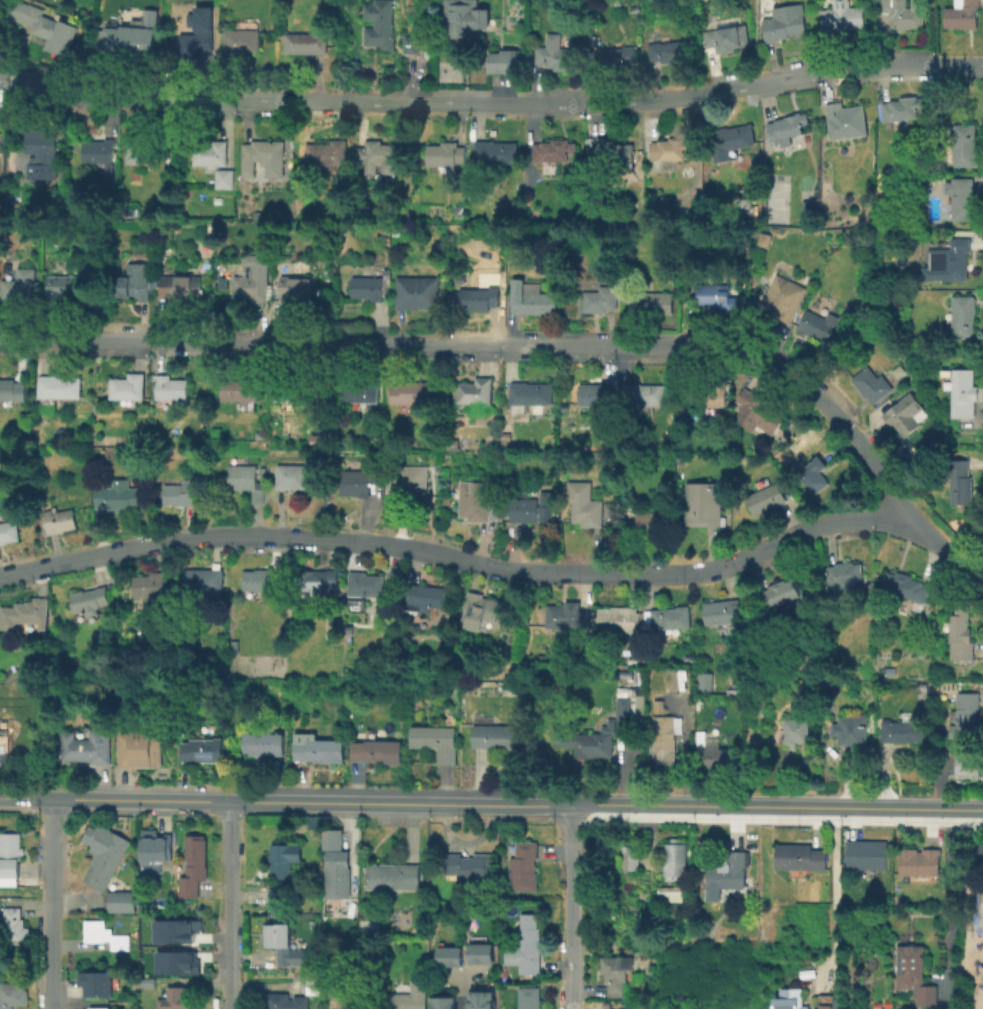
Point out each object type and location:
building: (903, 14)
building: (961, 14)
building: (465, 17)
building: (842, 17)
building: (784, 22)
building: (380, 24)
building: (49, 31)
building: (130, 37)
building: (199, 38)
building: (727, 38)
building: (243, 40)
building: (307, 41)
building: (416, 44)
building: (668, 50)
building: (557, 53)
building: (617, 57)
building: (504, 59)
road: (490, 105)
building: (902, 108)
building: (846, 121)
building: (787, 125)
building: (729, 141)
building: (962, 144)
building: (43, 145)
building: (671, 148)
building: (148, 149)
building: (498, 152)
building: (614, 152)
building: (213, 153)
building: (332, 153)
building: (553, 153)
building: (100, 154)
building: (263, 154)
building: (446, 154)
building: (379, 156)
building: (227, 178)
building: (961, 197)
building: (807, 207)
building: (461, 209)
building: (948, 259)
building: (251, 278)
building: (614, 279)
building: (135, 282)
building: (64, 285)
building: (184, 286)
building: (295, 286)
building: (372, 286)
building: (20, 287)
building: (416, 292)
building: (479, 295)
building: (717, 296)
building: (599, 298)
building: (783, 298)
building: (530, 299)
building: (650, 301)
building: (963, 315)
building: (816, 323)
road: (492, 345)
building: (871, 384)
building: (62, 386)
building: (129, 386)
building: (172, 387)
building: (241, 389)
building: (289, 389)
building: (13, 390)
building: (362, 390)
building: (475, 390)
building: (410, 392)
building: (594, 392)
building: (960, 392)
building: (530, 393)
building: (642, 393)
building: (711, 394)
building: (757, 410)
building: (901, 418)
building: (450, 442)
building: (679, 459)
building: (436, 469)
building: (814, 474)
building: (291, 476)
building: (246, 480)
building: (961, 481)
building: (354, 482)
building: (406, 486)
building: (180, 493)
building: (119, 494)
building: (765, 498)
building: (479, 503)
building: (583, 503)
building: (700, 504)
building: (531, 509)
building: (59, 520)
building: (641, 522)
building: (9, 531)
road: (502, 568)
building: (847, 576)
building: (262, 579)
building: (202, 580)
building: (320, 581)
building: (364, 584)
building: (150, 585)
building: (911, 588)
building: (782, 592)
building: (252, 595)
building: (424, 598)
building: (90, 599)
building: (480, 607)
building: (722, 611)
building: (25, 613)
building: (567, 615)
building: (670, 618)
building: (617, 621)
building: (961, 633)
building: (231, 644)
building: (702, 681)
building: (705, 704)
building: (966, 714)
building: (852, 728)
building: (603, 729)
building: (796, 730)
building: (903, 731)
building: (665, 734)
building: (494, 735)
building: (436, 741)
building: (263, 743)
building: (88, 746)
building: (4, 747)
building: (317, 748)
building: (709, 748)
building: (138, 749)
building: (202, 750)
building: (377, 751)
building: (969, 766)
road: (883, 782)
road: (845, 784)
road: (26, 798)
road: (311, 803)
road: (775, 810)
road: (981, 813)
building: (313, 823)
building: (333, 839)
road: (964, 842)
building: (157, 846)
building: (867, 854)
building: (103, 855)
building: (629, 856)
building: (799, 856)
building: (10, 859)
building: (284, 859)
building: (673, 859)
building: (919, 862)
building: (193, 865)
building: (469, 866)
building: (523, 867)
building: (337, 874)
building: (724, 874)
building: (393, 876)
building: (671, 893)
building: (276, 896)
road: (833, 900)
building: (123, 902)
road: (50, 904)
road: (230, 905)
road: (948, 906)
building: (979, 906)
road: (572, 908)
building: (13, 926)
building: (175, 930)
building: (105, 935)
building: (283, 944)
building: (526, 951)
building: (483, 955)
building: (450, 958)
building: (176, 961)
building: (615, 972)
building: (912, 974)
building: (96, 984)
building: (312, 985)
building: (12, 994)
building: (410, 997)
building: (174, 998)
building: (484, 999)
building: (788, 999)
building: (285, 1001)
building: (445, 1001)
building: (827, 1001)
building: (529, 1003)
building: (99, 1008)

